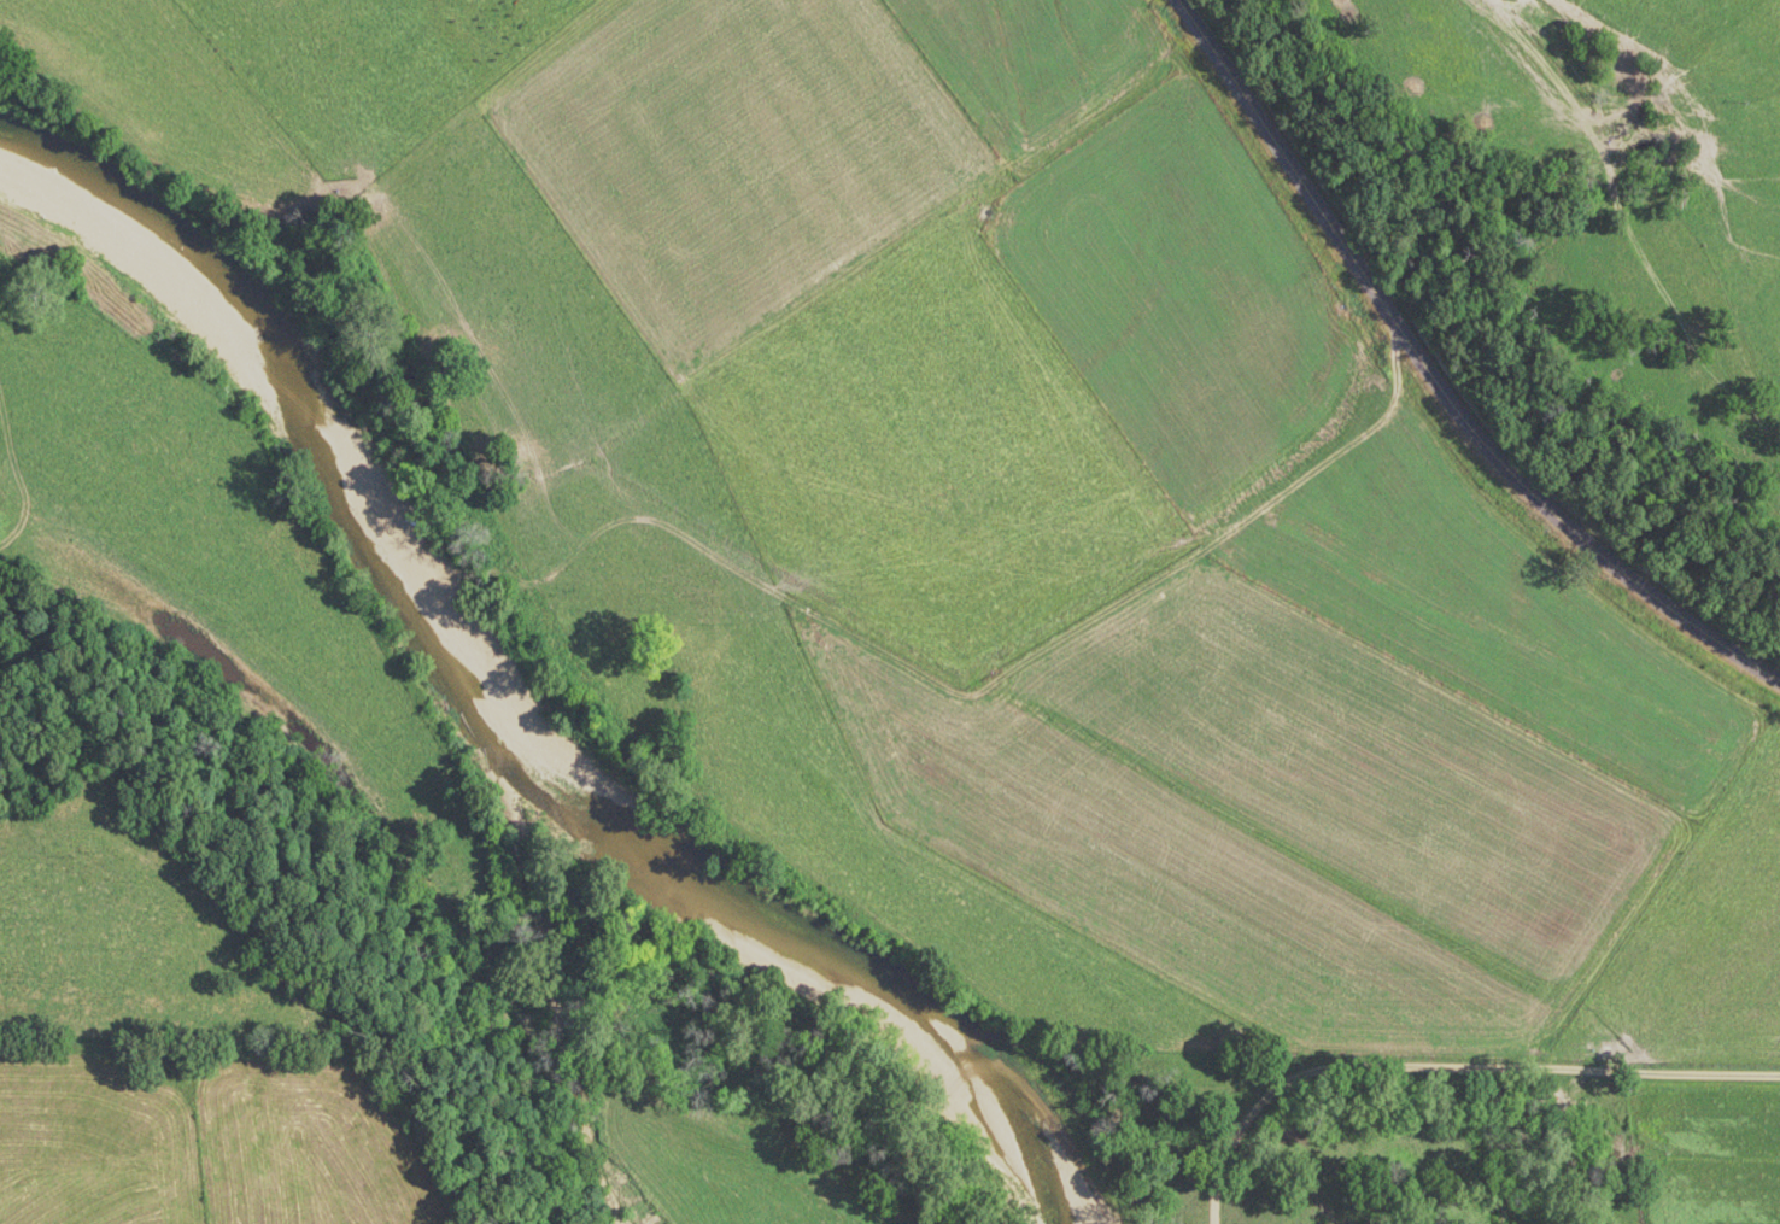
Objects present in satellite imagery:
road: (1439, 379)
road: (1670, 409)
river: (485, 724)

